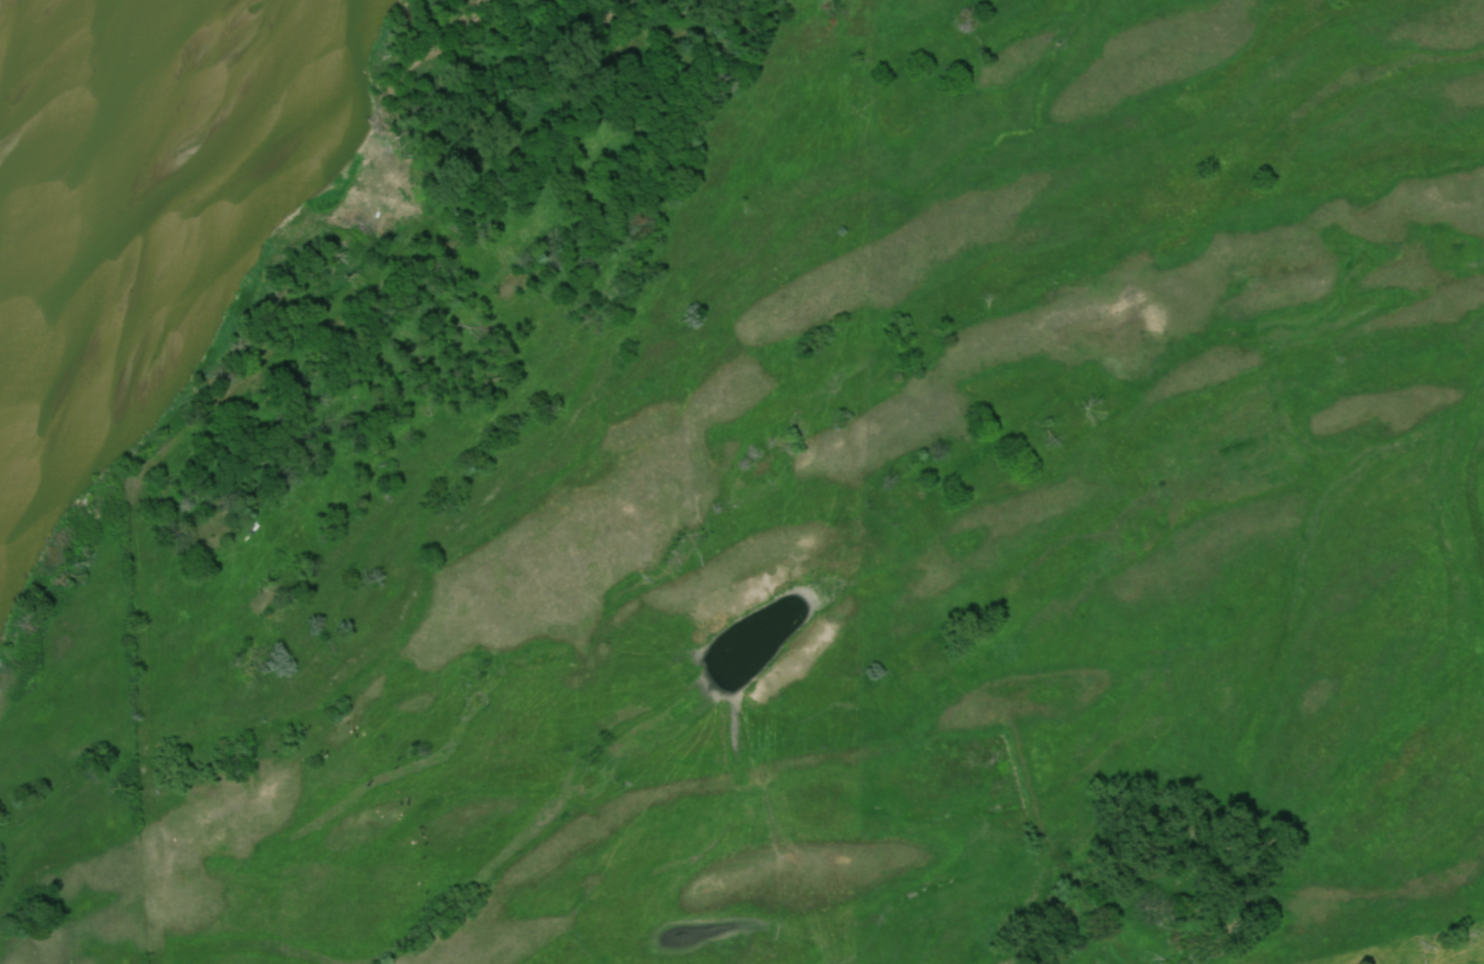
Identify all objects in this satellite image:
river: (141, 216)

